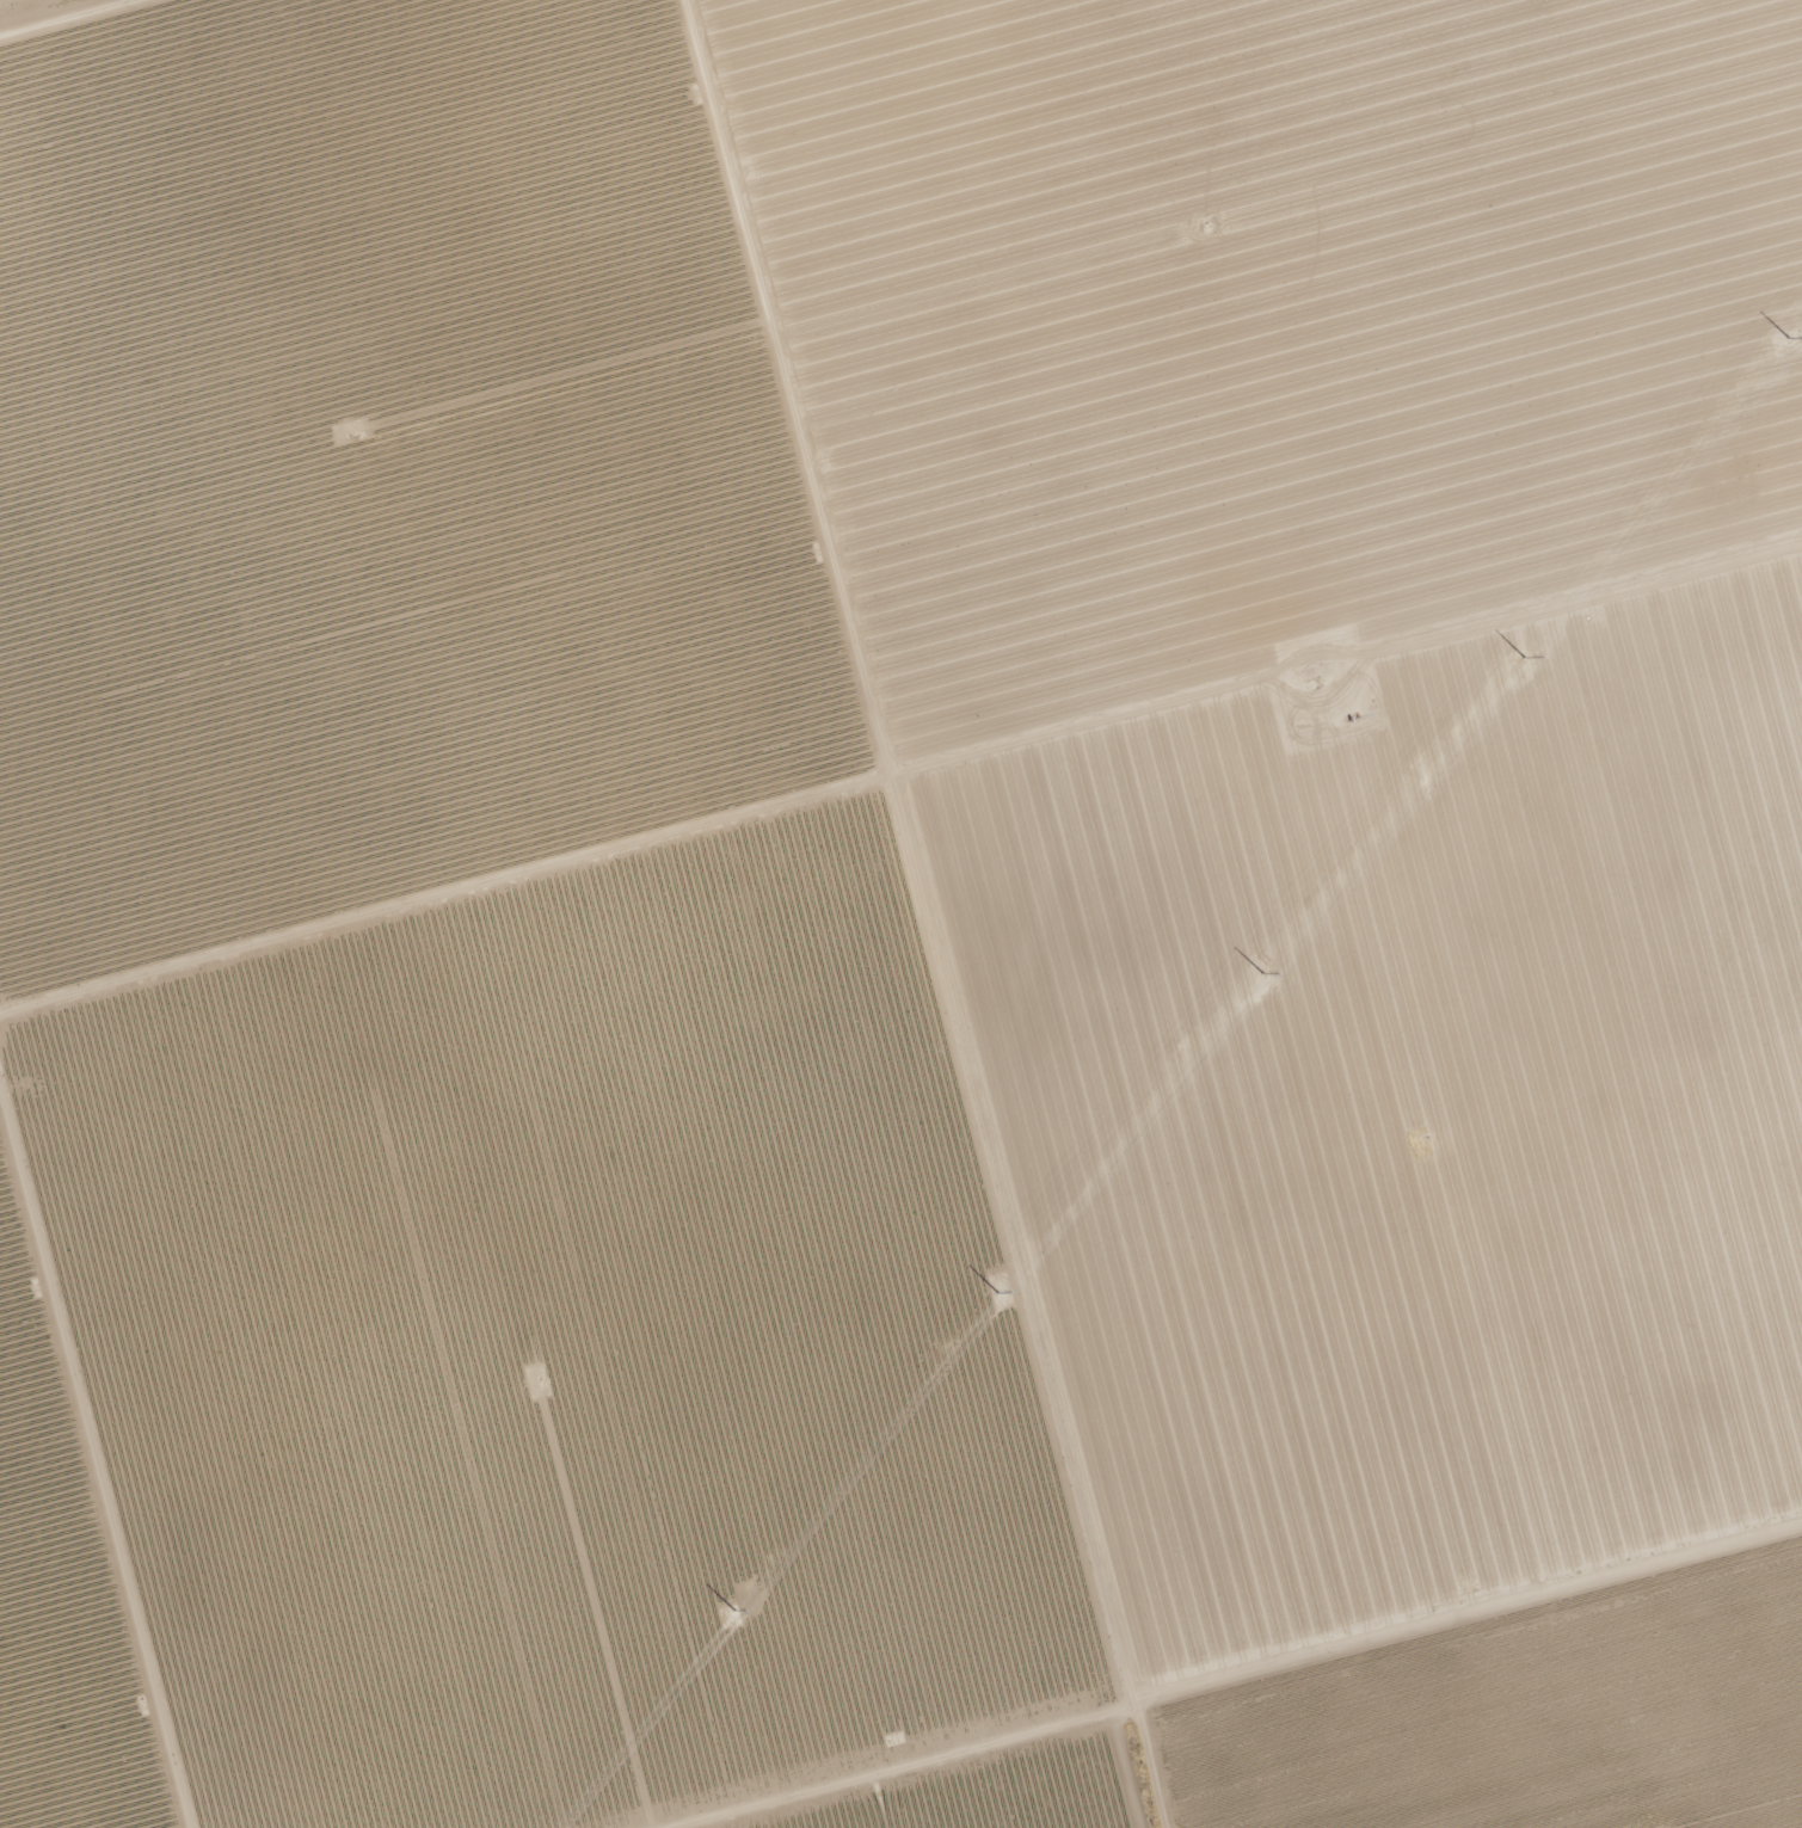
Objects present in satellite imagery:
power tower: (1798, 325)
power tower: (1532, 646)
power tower: (1268, 961)
power tower: (1004, 1282)
power tower: (742, 1599)

